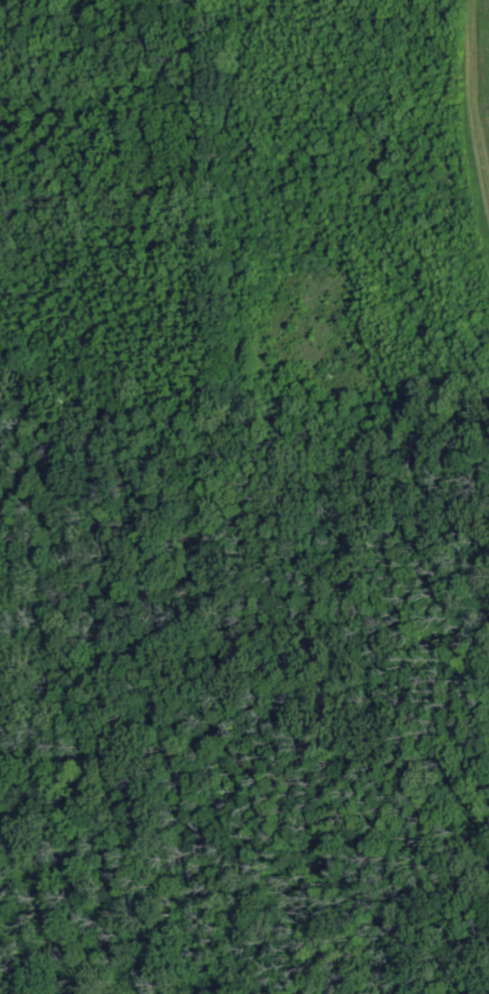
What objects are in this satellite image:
park: (244, 497)

